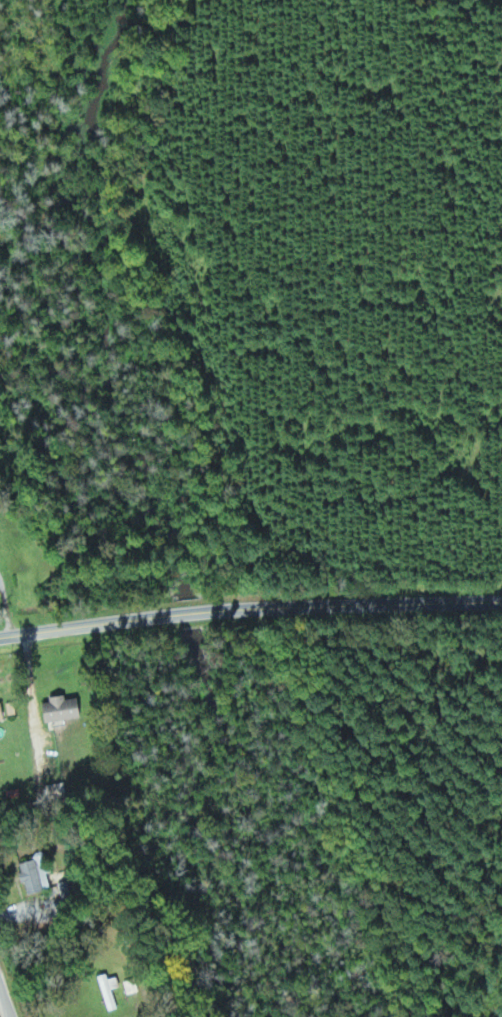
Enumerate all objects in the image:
road: (250, 606)
building: (63, 707)
building: (2, 711)
building: (58, 793)
building: (35, 874)
road: (7, 996)

